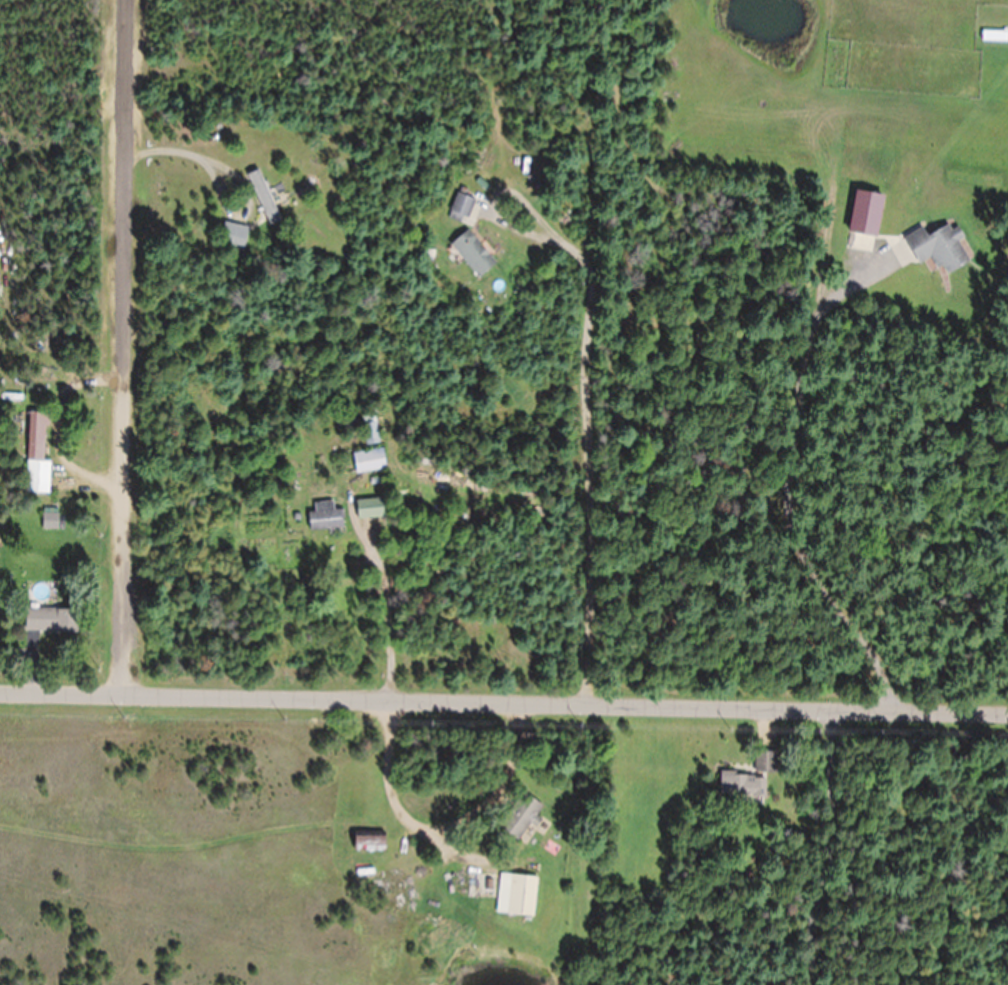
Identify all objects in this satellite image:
building: (994, 36)
building: (264, 198)
building: (461, 206)
building: (233, 237)
building: (937, 249)
building: (472, 254)
building: (36, 456)
building: (368, 461)
building: (370, 508)
building: (321, 517)
building: (49, 521)
building: (50, 620)
road: (504, 682)
building: (749, 778)
building: (520, 818)
building: (368, 842)
building: (516, 896)

